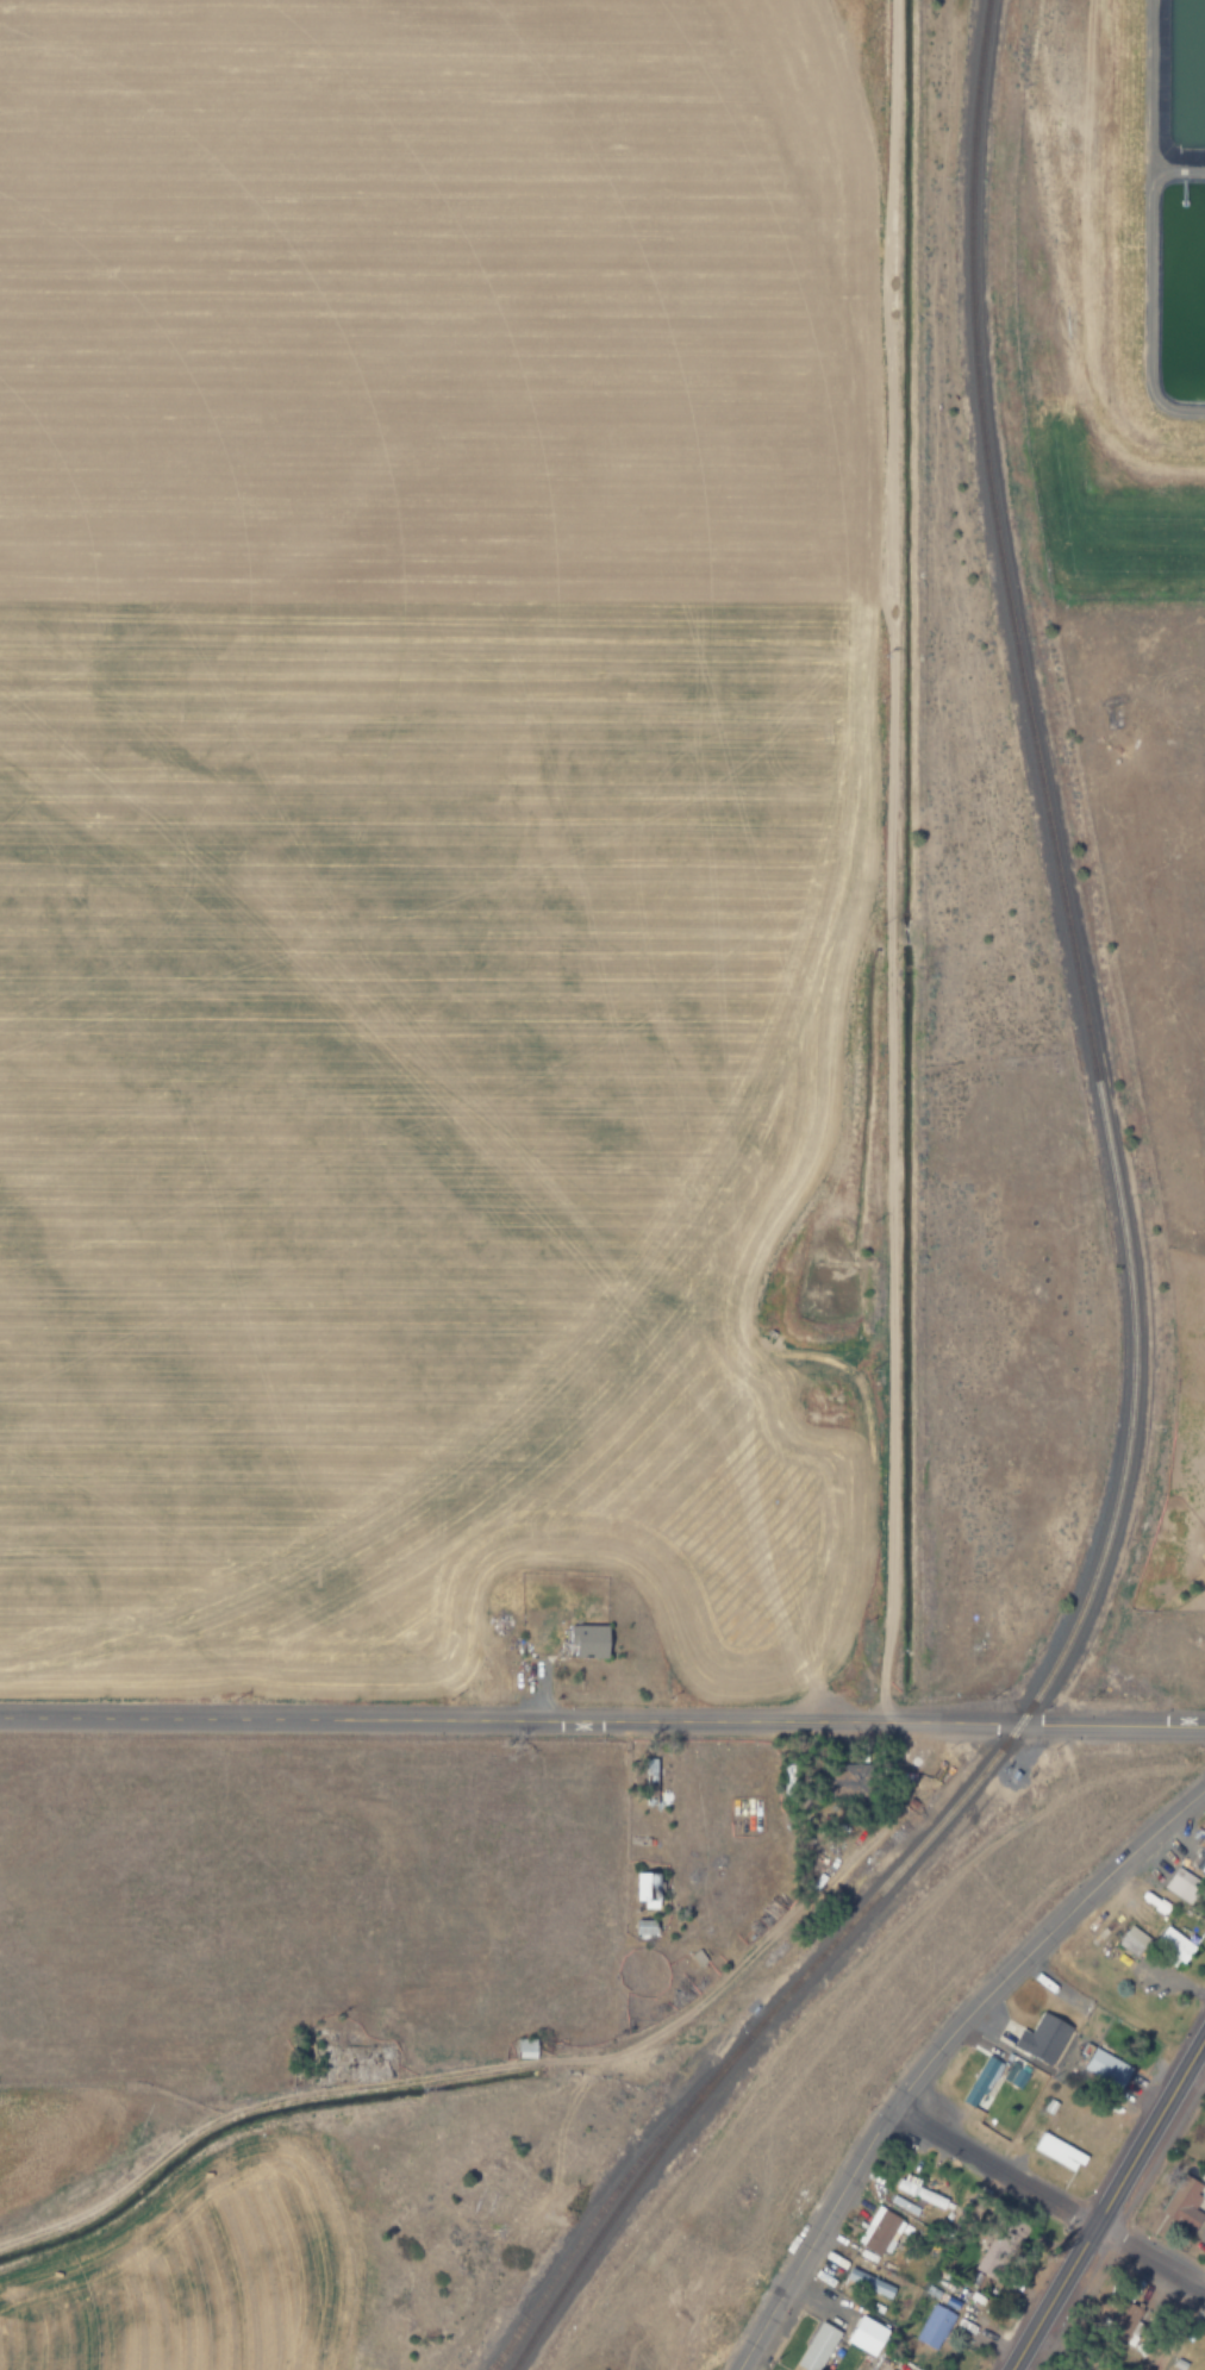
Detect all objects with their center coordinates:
crop: (1119, 505)
railway: (998, 548)
crop: (383, 751)
railway: (1094, 1572)
building: (592, 1640)
road: (602, 1719)
building: (849, 1778)
building: (649, 1780)
building: (1199, 1857)
building: (1181, 1886)
building: (647, 1889)
building: (645, 1927)
building: (1130, 1940)
building: (1170, 1946)
crop: (280, 2037)
building: (1043, 2038)
building: (524, 2049)
road: (936, 2050)
building: (1105, 2068)
building: (1014, 2075)
building: (978, 2080)
building: (1055, 2150)
railway: (638, 2158)
building: (918, 2191)
road: (1047, 2199)
building: (1185, 2203)
road: (1113, 2208)
railway: (611, 2212)
building: (879, 2230)
building: (869, 2283)
building: (934, 2326)
road: (1180, 2327)
building: (869, 2334)
building: (818, 2347)
railway: (500, 2352)
building: (1204, 2368)
building: (887, 2369)

